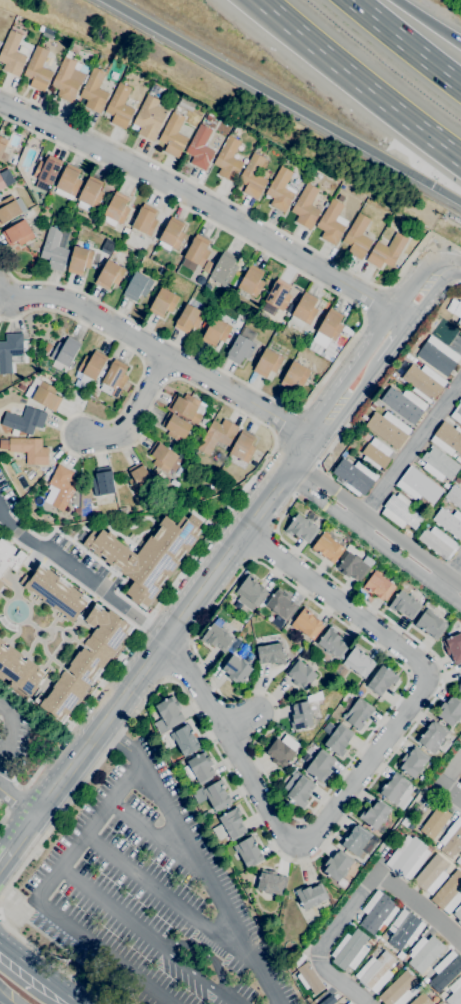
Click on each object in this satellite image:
road: (428, 21)
building: (41, 28)
building: (47, 32)
road: (405, 43)
building: (11, 53)
building: (38, 69)
building: (68, 77)
road: (356, 84)
building: (154, 89)
building: (94, 90)
road: (283, 101)
building: (186, 104)
building: (119, 106)
building: (177, 108)
building: (149, 117)
building: (208, 117)
building: (236, 131)
building: (173, 135)
building: (2, 145)
building: (200, 148)
building: (228, 159)
building: (47, 170)
building: (253, 175)
building: (5, 179)
building: (68, 182)
traffic signals: (430, 186)
building: (281, 189)
building: (90, 193)
road: (213, 194)
building: (0, 198)
building: (339, 198)
road: (202, 203)
building: (305, 207)
building: (10, 209)
building: (116, 209)
building: (145, 220)
building: (331, 222)
building: (126, 230)
building: (18, 233)
building: (171, 235)
building: (357, 237)
building: (107, 246)
building: (53, 250)
building: (386, 251)
building: (196, 253)
building: (79, 259)
building: (208, 266)
road: (453, 266)
building: (223, 269)
building: (109, 274)
building: (251, 280)
building: (137, 286)
road: (418, 286)
building: (278, 294)
road: (371, 300)
building: (163, 302)
building: (303, 310)
building: (458, 311)
building: (188, 318)
building: (328, 328)
building: (216, 331)
building: (443, 331)
road: (356, 336)
road: (383, 336)
building: (242, 346)
road: (154, 350)
building: (10, 351)
building: (65, 351)
building: (438, 357)
building: (267, 362)
building: (91, 367)
road: (386, 370)
building: (295, 375)
building: (114, 378)
building: (424, 381)
building: (21, 387)
building: (43, 394)
building: (404, 404)
building: (187, 407)
road: (232, 408)
road: (133, 413)
building: (457, 413)
building: (24, 420)
road: (286, 425)
building: (175, 427)
building: (388, 428)
building: (217, 435)
building: (448, 438)
building: (243, 447)
road: (411, 448)
building: (30, 450)
building: (375, 454)
building: (164, 457)
building: (439, 464)
building: (354, 476)
building: (140, 478)
building: (460, 478)
road: (306, 479)
building: (457, 480)
building: (103, 481)
building: (418, 485)
building: (60, 487)
building: (454, 496)
building: (401, 511)
road: (357, 520)
building: (449, 522)
road: (376, 524)
building: (301, 528)
road: (274, 531)
building: (406, 532)
road: (372, 539)
building: (438, 542)
road: (262, 544)
building: (327, 547)
building: (149, 553)
building: (10, 554)
road: (253, 559)
road: (257, 562)
building: (353, 567)
road: (455, 568)
road: (79, 575)
road: (444, 583)
building: (0, 584)
road: (201, 585)
building: (379, 585)
building: (55, 591)
building: (250, 592)
building: (282, 604)
building: (404, 605)
building: (244, 619)
building: (278, 622)
building: (307, 623)
building: (430, 623)
building: (108, 632)
building: (217, 637)
road: (190, 642)
building: (333, 642)
building: (453, 647)
building: (243, 650)
building: (270, 654)
building: (246, 657)
road: (176, 659)
building: (358, 662)
building: (235, 664)
building: (18, 669)
building: (300, 674)
road: (166, 678)
building: (381, 680)
building: (72, 683)
building: (460, 687)
building: (450, 710)
building: (358, 713)
building: (168, 714)
building: (300, 714)
road: (237, 720)
road: (8, 730)
building: (432, 736)
building: (338, 739)
building: (185, 740)
building: (281, 750)
building: (413, 761)
building: (319, 765)
road: (363, 767)
building: (199, 768)
road: (451, 771)
building: (460, 781)
building: (460, 783)
building: (298, 789)
building: (397, 790)
road: (451, 792)
building: (213, 795)
road: (16, 801)
building: (375, 814)
building: (434, 822)
building: (229, 825)
road: (17, 835)
road: (154, 836)
building: (452, 838)
building: (356, 839)
building: (248, 851)
building: (408, 857)
road: (1, 858)
road: (194, 858)
road: (293, 862)
building: (337, 865)
building: (429, 873)
building: (271, 882)
building: (448, 893)
building: (311, 895)
parking lot: (149, 897)
road: (168, 898)
road: (36, 900)
road: (421, 906)
building: (377, 911)
road: (344, 913)
building: (458, 914)
building: (404, 929)
road: (144, 936)
building: (349, 950)
building: (424, 953)
road: (51, 961)
building: (298, 961)
building: (445, 971)
building: (375, 972)
road: (39, 973)
building: (308, 978)
road: (338, 982)
building: (398, 990)
building: (455, 993)
building: (442, 995)
building: (420, 998)
building: (327, 1000)
road: (0, 1003)
building: (349, 1003)

